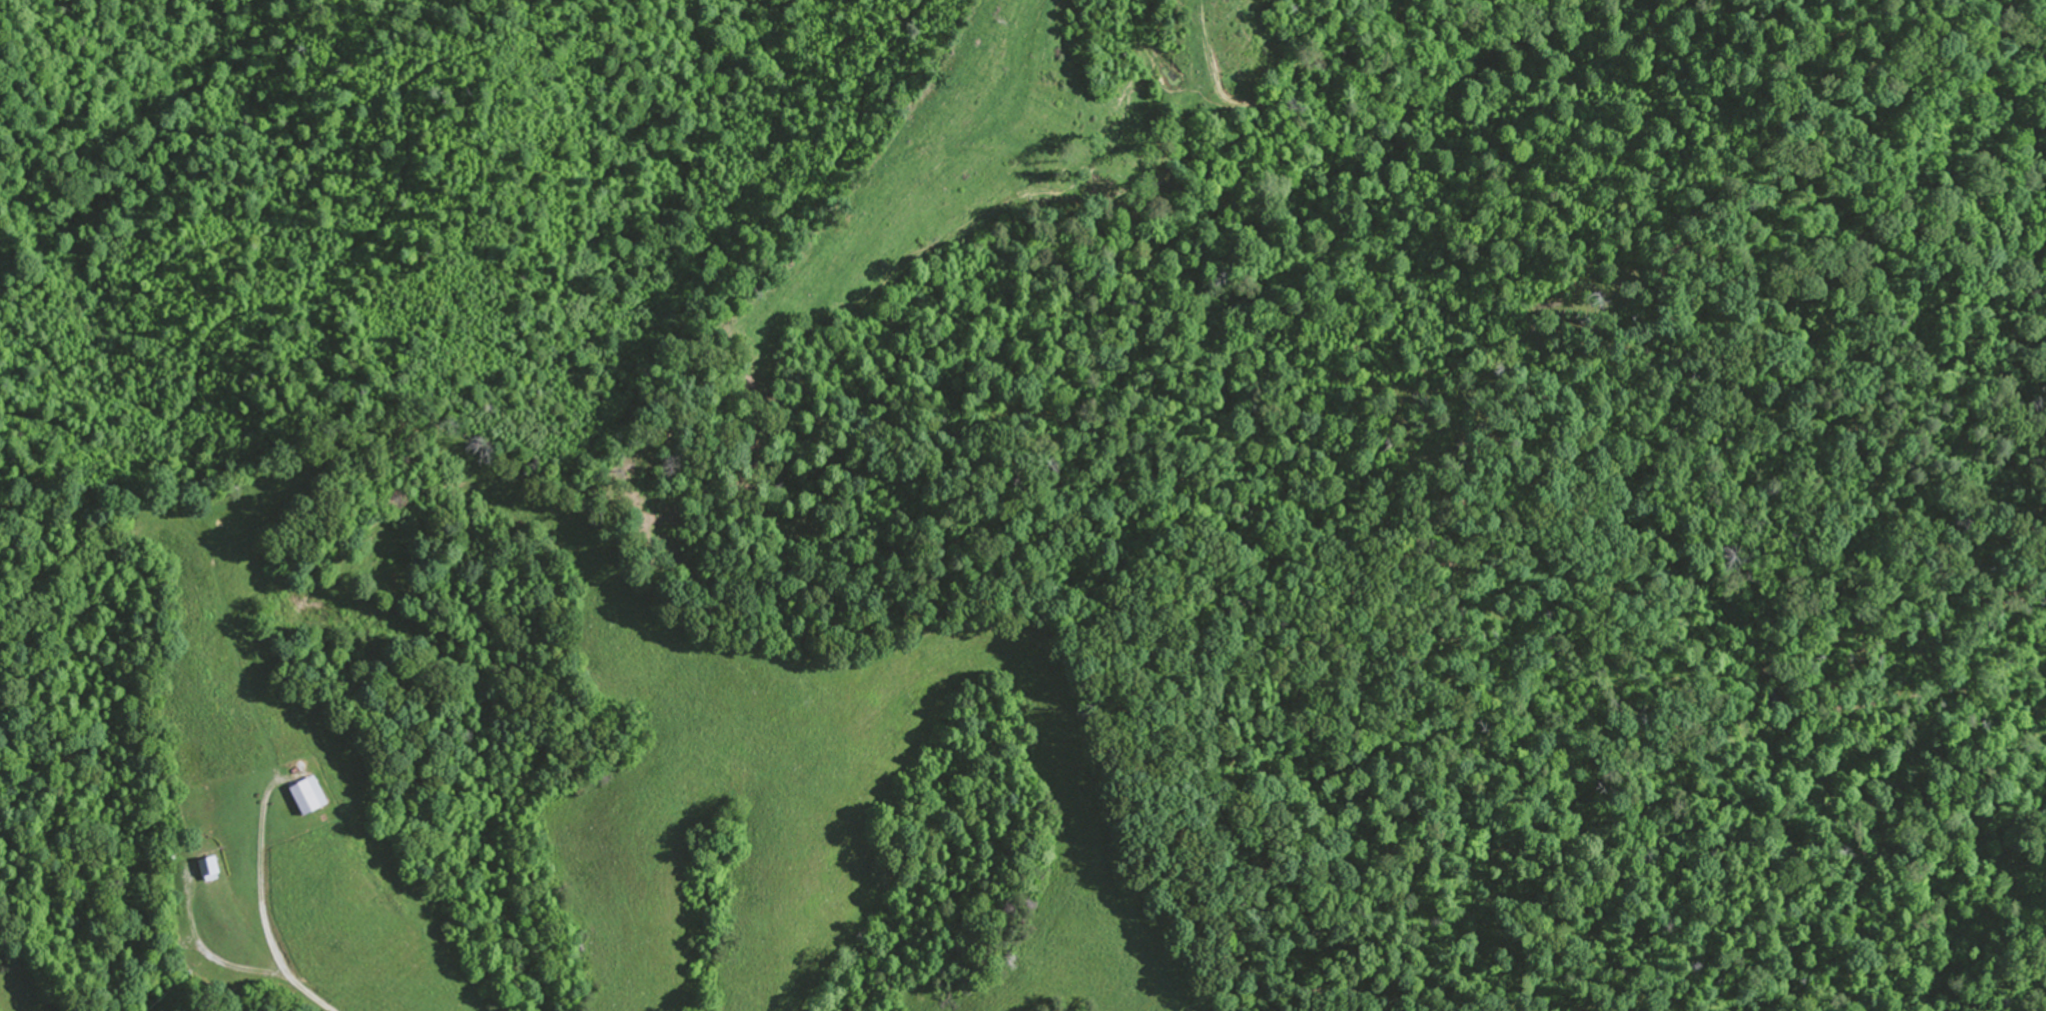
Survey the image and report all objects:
building: (308, 797)
building: (209, 871)
road: (300, 978)

